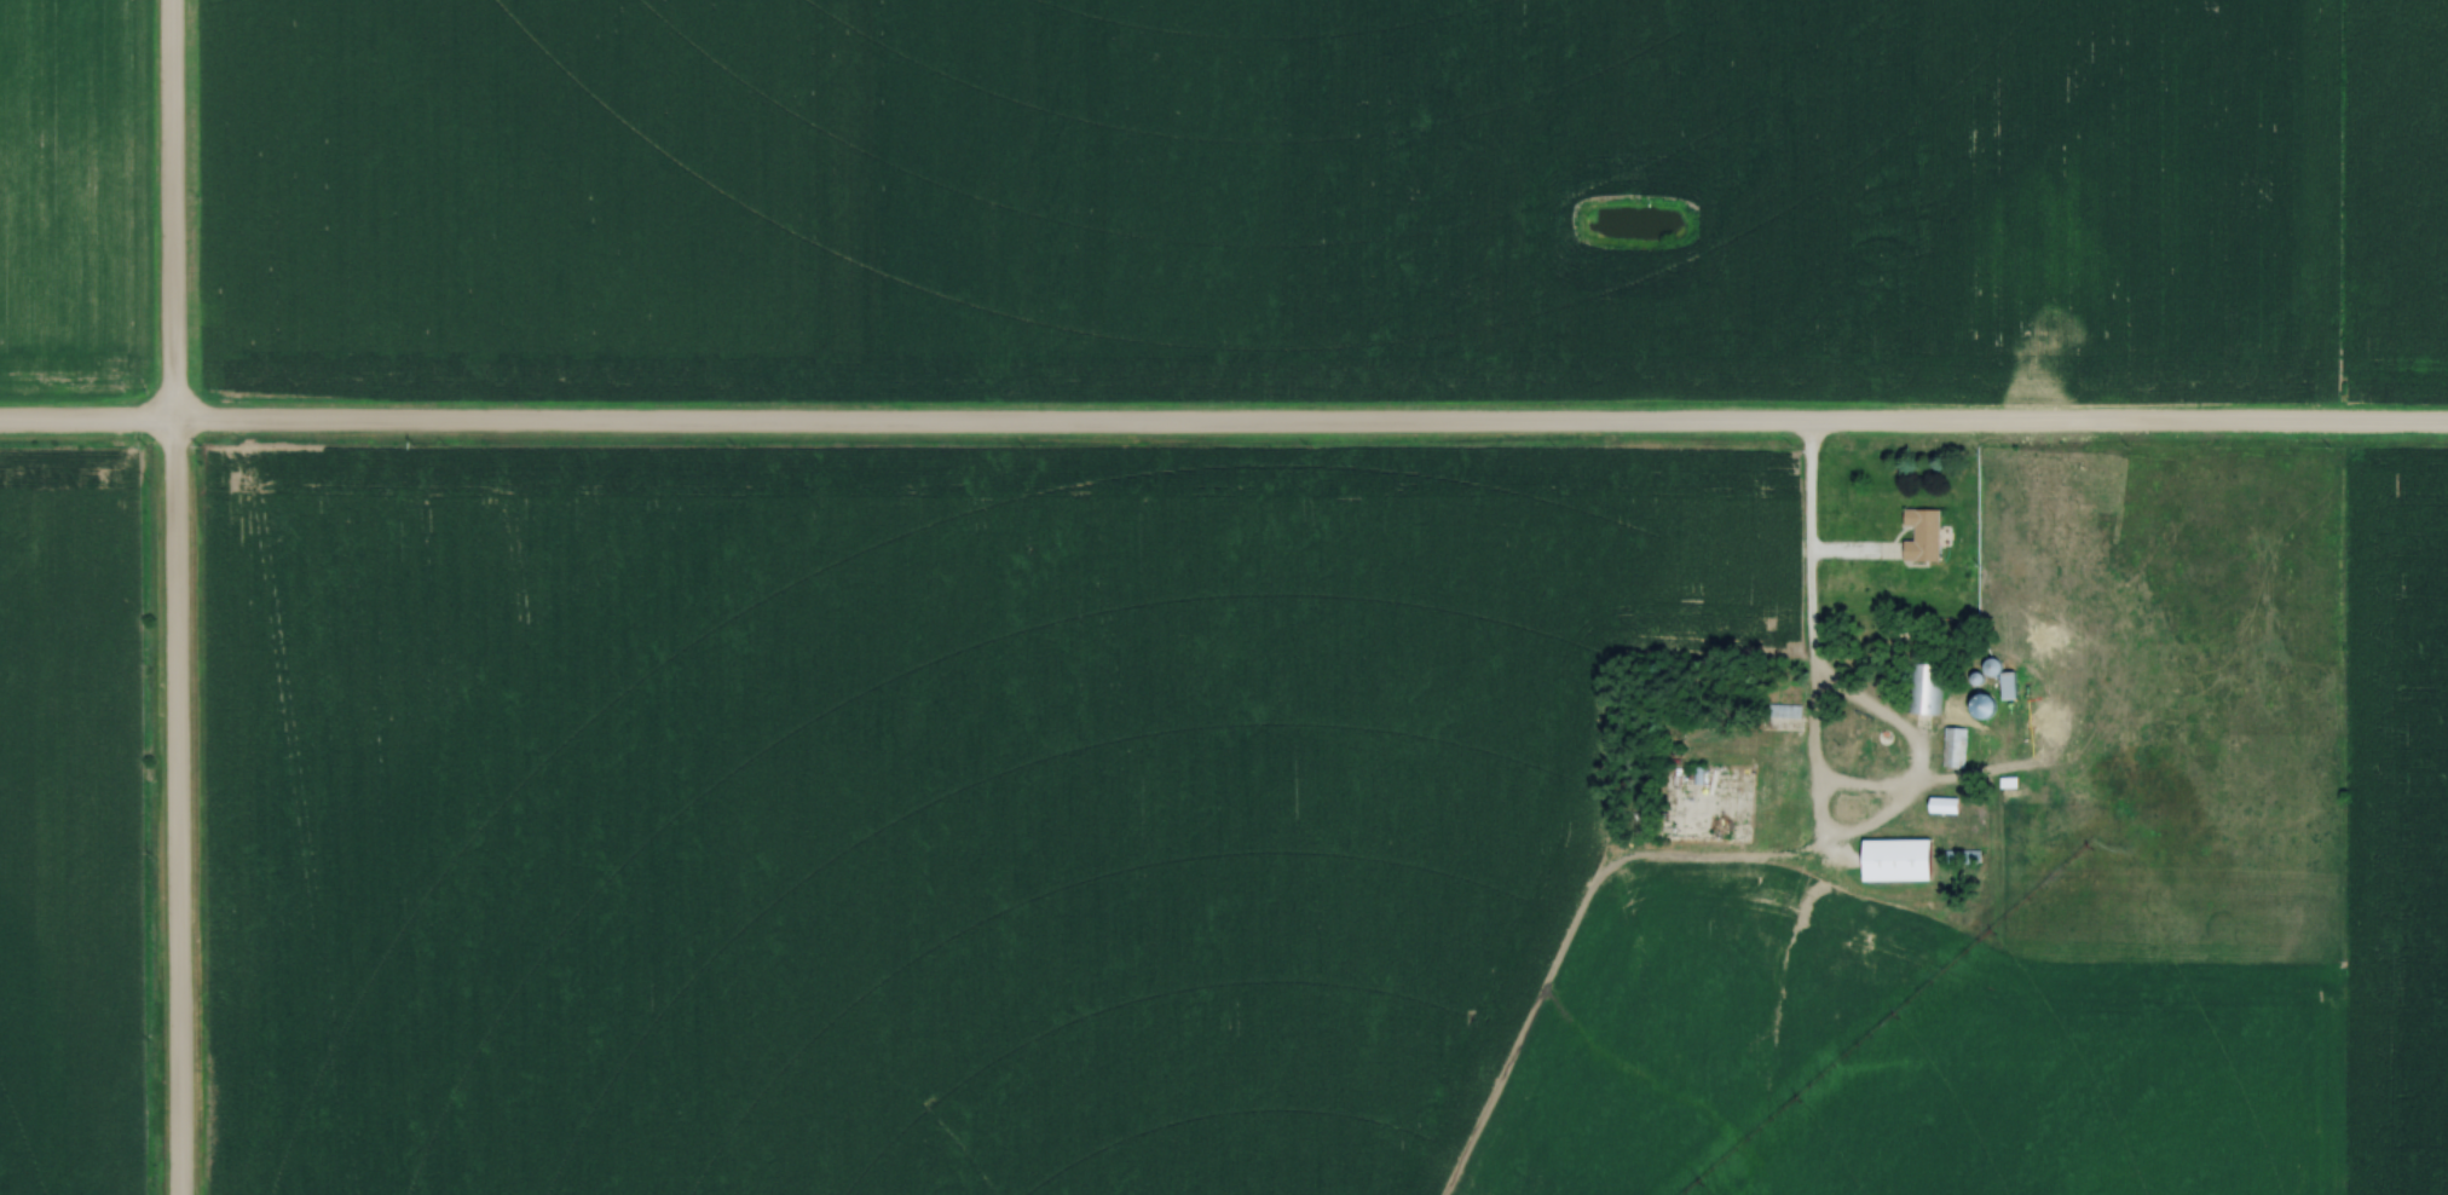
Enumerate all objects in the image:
road: (1224, 426)
building: (1921, 533)
road: (1848, 554)
road: (173, 596)
road: (1806, 619)
building: (2007, 683)
building: (1924, 687)
building: (1780, 709)
building: (1952, 746)
building: (1942, 804)
building: (1961, 856)
building: (1895, 858)

